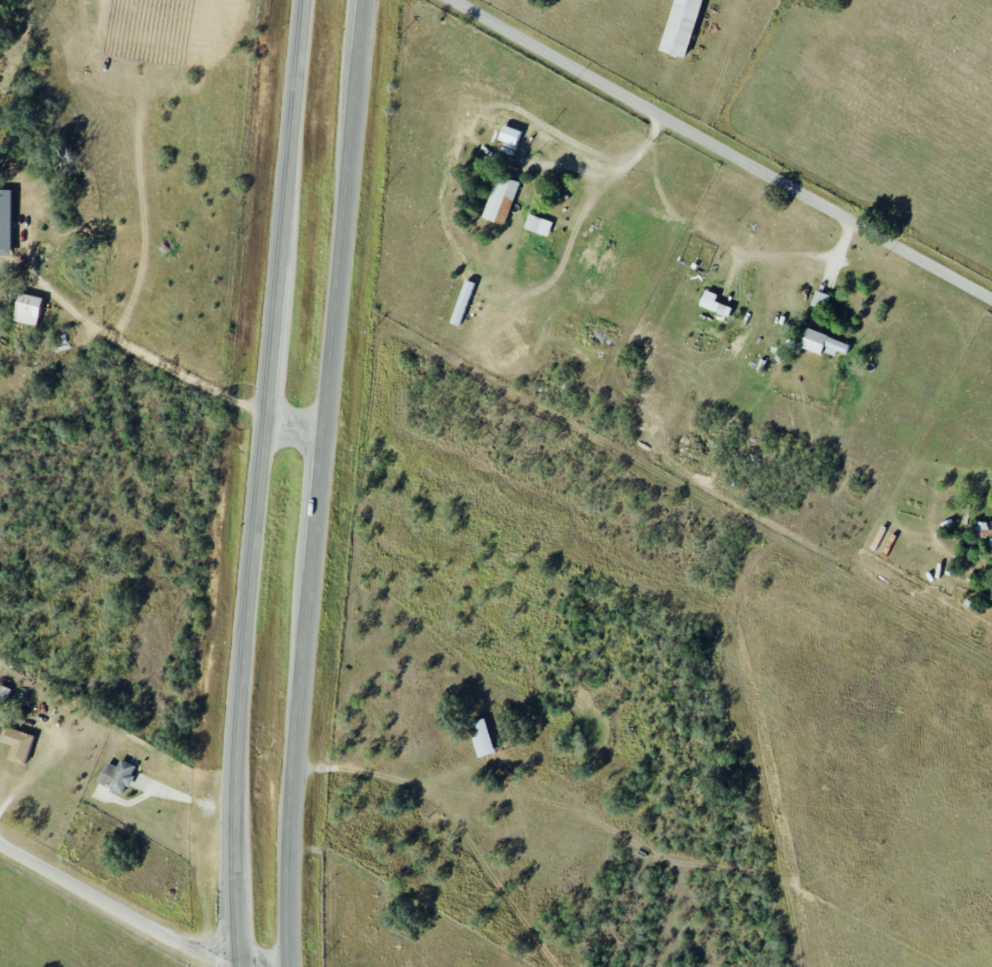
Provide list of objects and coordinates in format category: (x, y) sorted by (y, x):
building: (680, 26)
building: (510, 134)
road: (486, 145)
road: (716, 150)
building: (501, 199)
building: (5, 221)
building: (538, 225)
road: (730, 246)
building: (463, 302)
building: (714, 303)
building: (28, 309)
road: (117, 335)
building: (824, 343)
road: (295, 428)
road: (261, 483)
road: (319, 483)
building: (4, 693)
building: (481, 737)
building: (18, 745)
building: (117, 776)
road: (128, 914)

